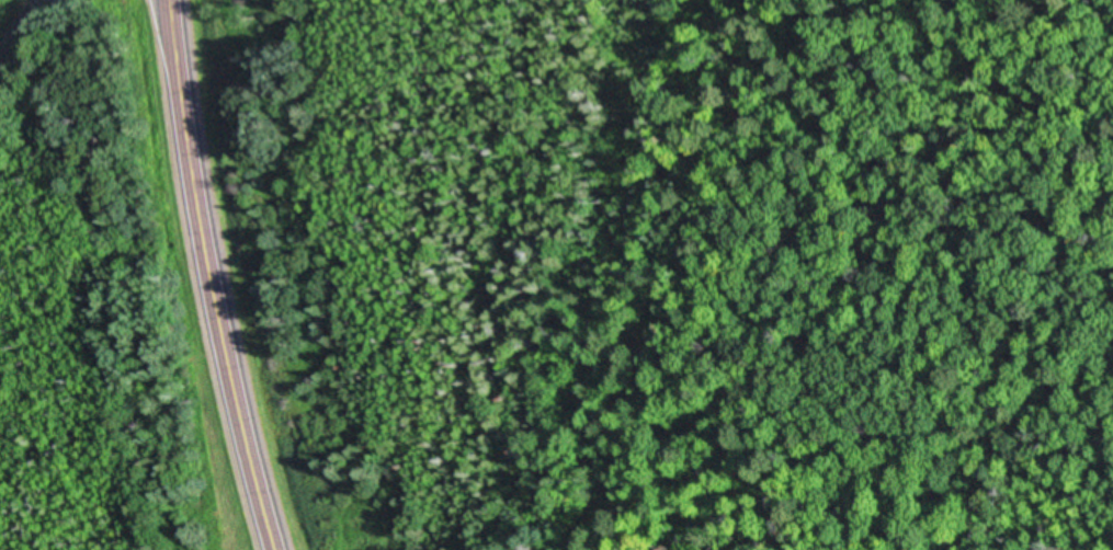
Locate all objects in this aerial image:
road: (21, 32)
road: (190, 179)
road: (241, 454)

